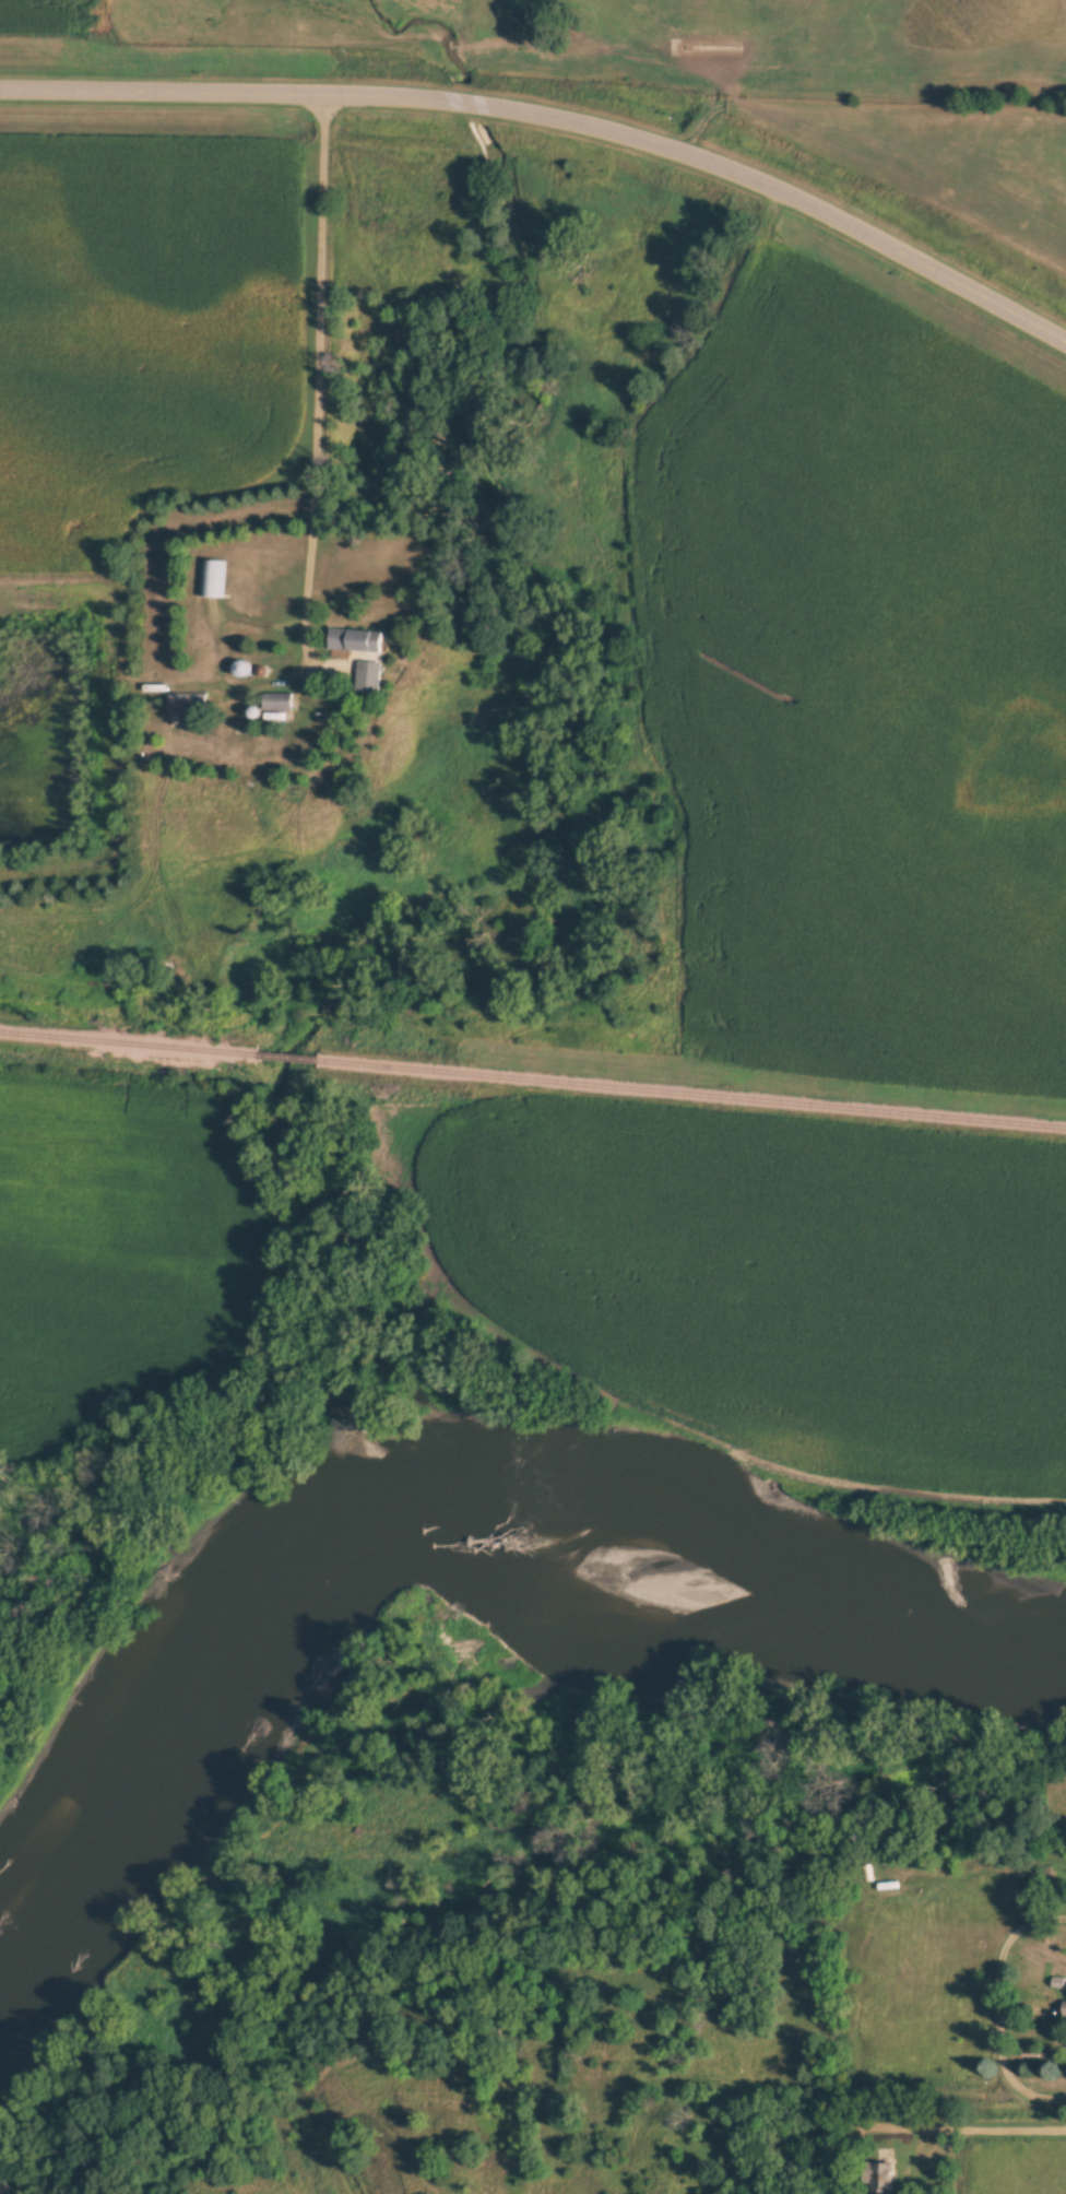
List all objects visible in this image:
road: (558, 114)
road: (317, 371)
building: (211, 578)
building: (355, 639)
building: (369, 671)
building: (276, 700)
building: (187, 701)
railway: (127, 1042)
railway: (285, 1057)
railway: (690, 1093)
river: (445, 1519)
road: (1002, 2008)
building: (1064, 2009)
road: (1019, 2100)
road: (928, 2132)
building: (880, 2179)

